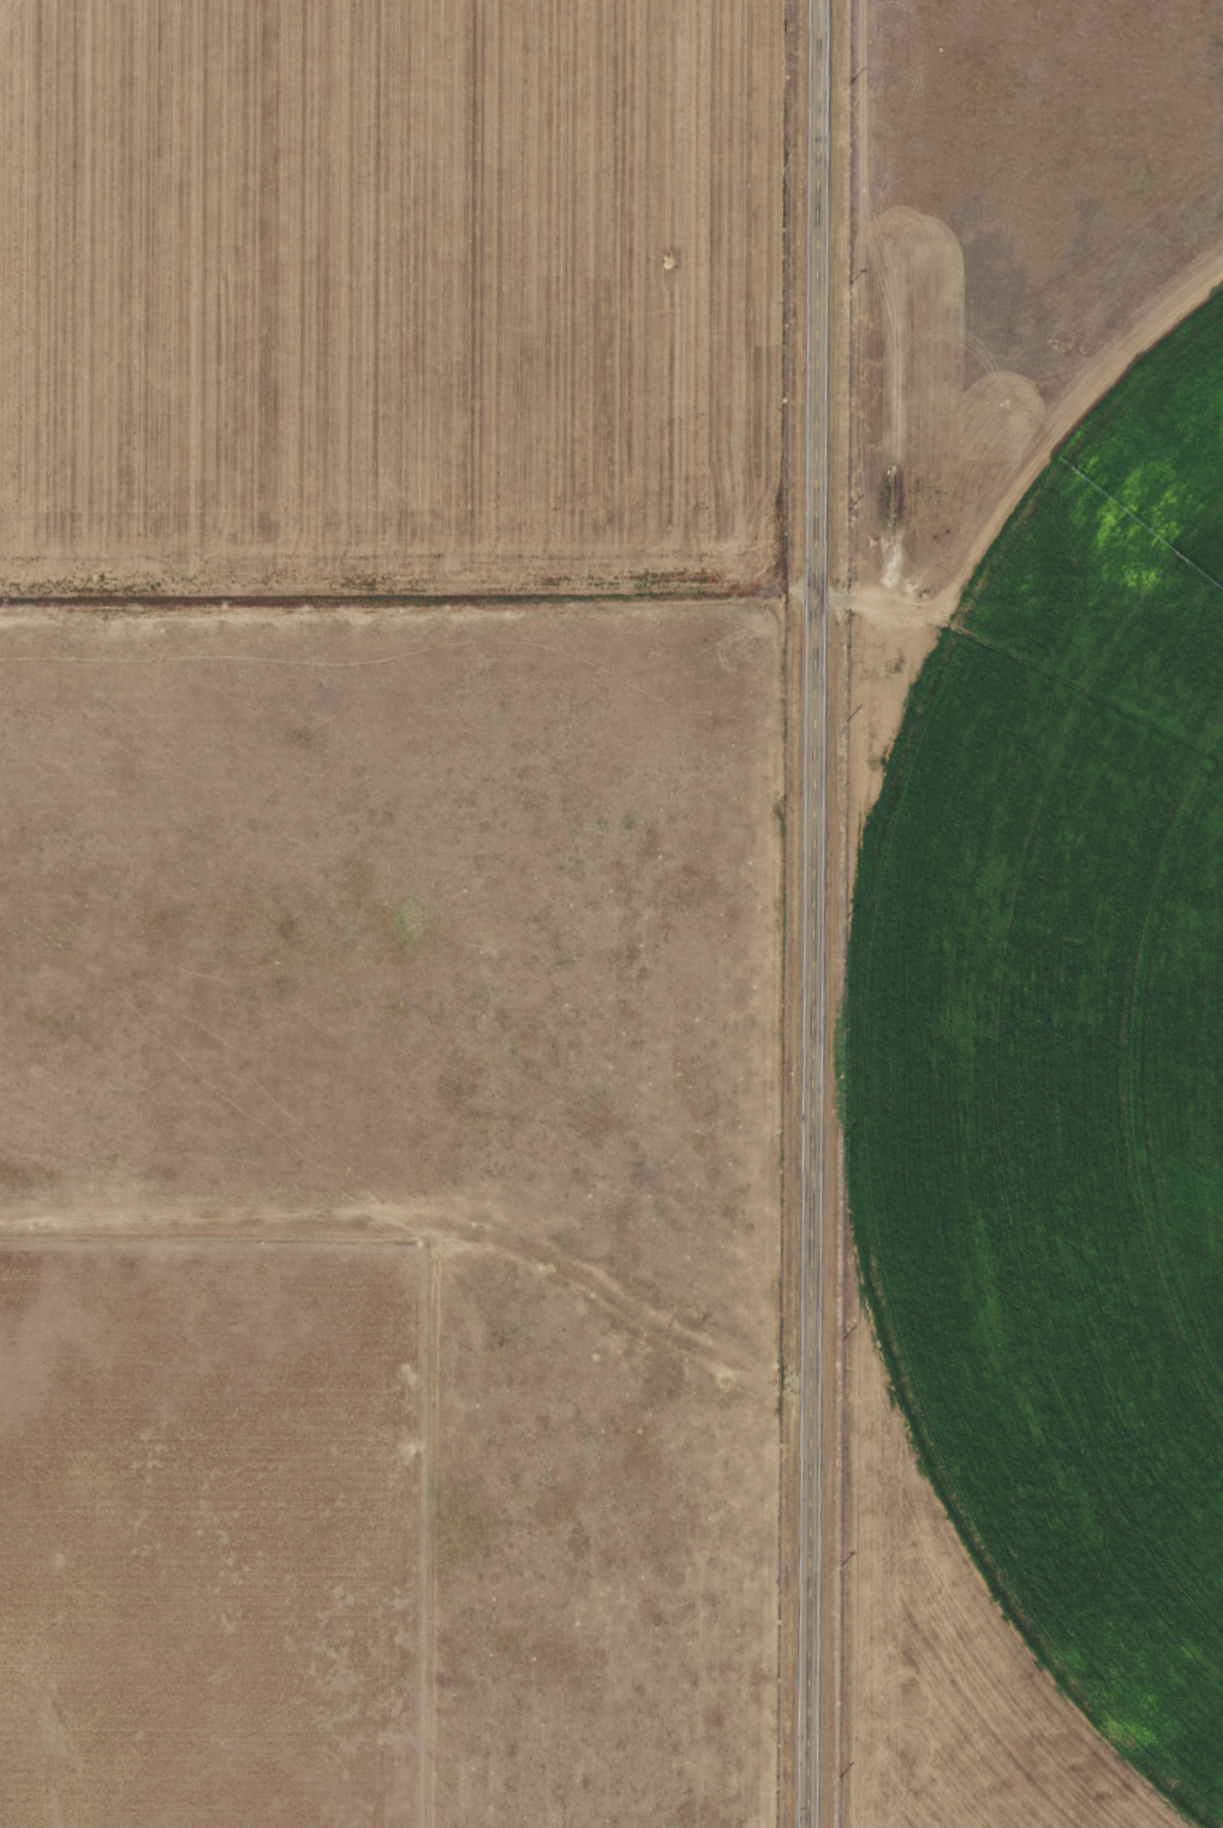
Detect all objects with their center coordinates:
road: (813, 913)

